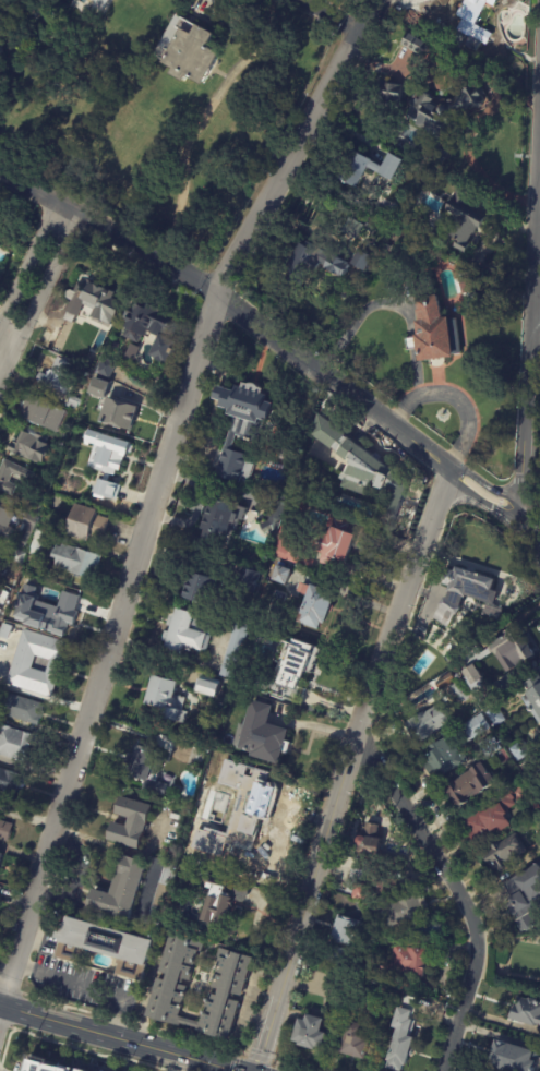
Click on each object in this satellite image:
building: (98, 5)
road: (331, 15)
building: (410, 15)
building: (471, 24)
building: (37, 38)
building: (411, 45)
building: (189, 51)
building: (392, 95)
building: (352, 98)
building: (443, 108)
road: (199, 122)
road: (468, 147)
building: (442, 154)
building: (367, 171)
building: (423, 177)
building: (464, 218)
building: (350, 229)
road: (480, 242)
building: (359, 261)
road: (539, 262)
building: (312, 263)
road: (28, 265)
building: (465, 285)
road: (538, 286)
road: (38, 299)
building: (99, 303)
road: (231, 308)
road: (361, 309)
building: (433, 328)
building: (153, 329)
building: (116, 344)
road: (411, 345)
building: (132, 351)
building: (109, 368)
building: (58, 375)
road: (530, 375)
building: (101, 388)
road: (418, 394)
building: (77, 402)
building: (46, 413)
road: (466, 414)
building: (120, 416)
building: (238, 425)
building: (34, 446)
building: (105, 461)
building: (362, 470)
building: (26, 477)
road: (158, 485)
road: (484, 498)
building: (36, 506)
building: (300, 506)
building: (274, 515)
building: (218, 519)
building: (4, 525)
building: (91, 525)
building: (25, 531)
building: (334, 541)
building: (39, 542)
road: (530, 543)
building: (285, 547)
building: (2, 553)
building: (19, 556)
building: (82, 563)
building: (3, 574)
building: (279, 574)
building: (248, 580)
building: (29, 583)
building: (461, 586)
building: (193, 587)
building: (3, 597)
building: (65, 605)
building: (311, 605)
building: (0, 612)
building: (184, 631)
building: (5, 641)
building: (265, 641)
building: (233, 651)
building: (512, 660)
building: (299, 661)
building: (24, 662)
building: (423, 665)
building: (451, 677)
building: (206, 687)
building: (458, 691)
building: (490, 697)
building: (533, 697)
building: (168, 700)
building: (27, 709)
building: (494, 715)
building: (425, 723)
building: (472, 727)
building: (260, 734)
building: (14, 743)
building: (490, 746)
building: (518, 750)
building: (441, 758)
building: (145, 762)
building: (220, 763)
road: (345, 768)
building: (9, 781)
building: (471, 783)
building: (253, 798)
building: (533, 807)
building: (488, 819)
building: (131, 823)
building: (7, 830)
building: (370, 842)
building: (504, 852)
building: (0, 854)
building: (172, 855)
road: (220, 868)
building: (367, 885)
road: (456, 889)
building: (1, 891)
building: (119, 891)
building: (524, 896)
building: (159, 899)
building: (216, 903)
building: (404, 911)
building: (346, 931)
building: (105, 946)
building: (334, 955)
building: (403, 961)
road: (86, 986)
building: (169, 988)
building: (398, 999)
building: (526, 1012)
building: (308, 1034)
road: (119, 1037)
building: (539, 1039)
building: (356, 1042)
building: (400, 1043)
building: (511, 1058)
building: (41, 1067)
building: (80, 1070)

